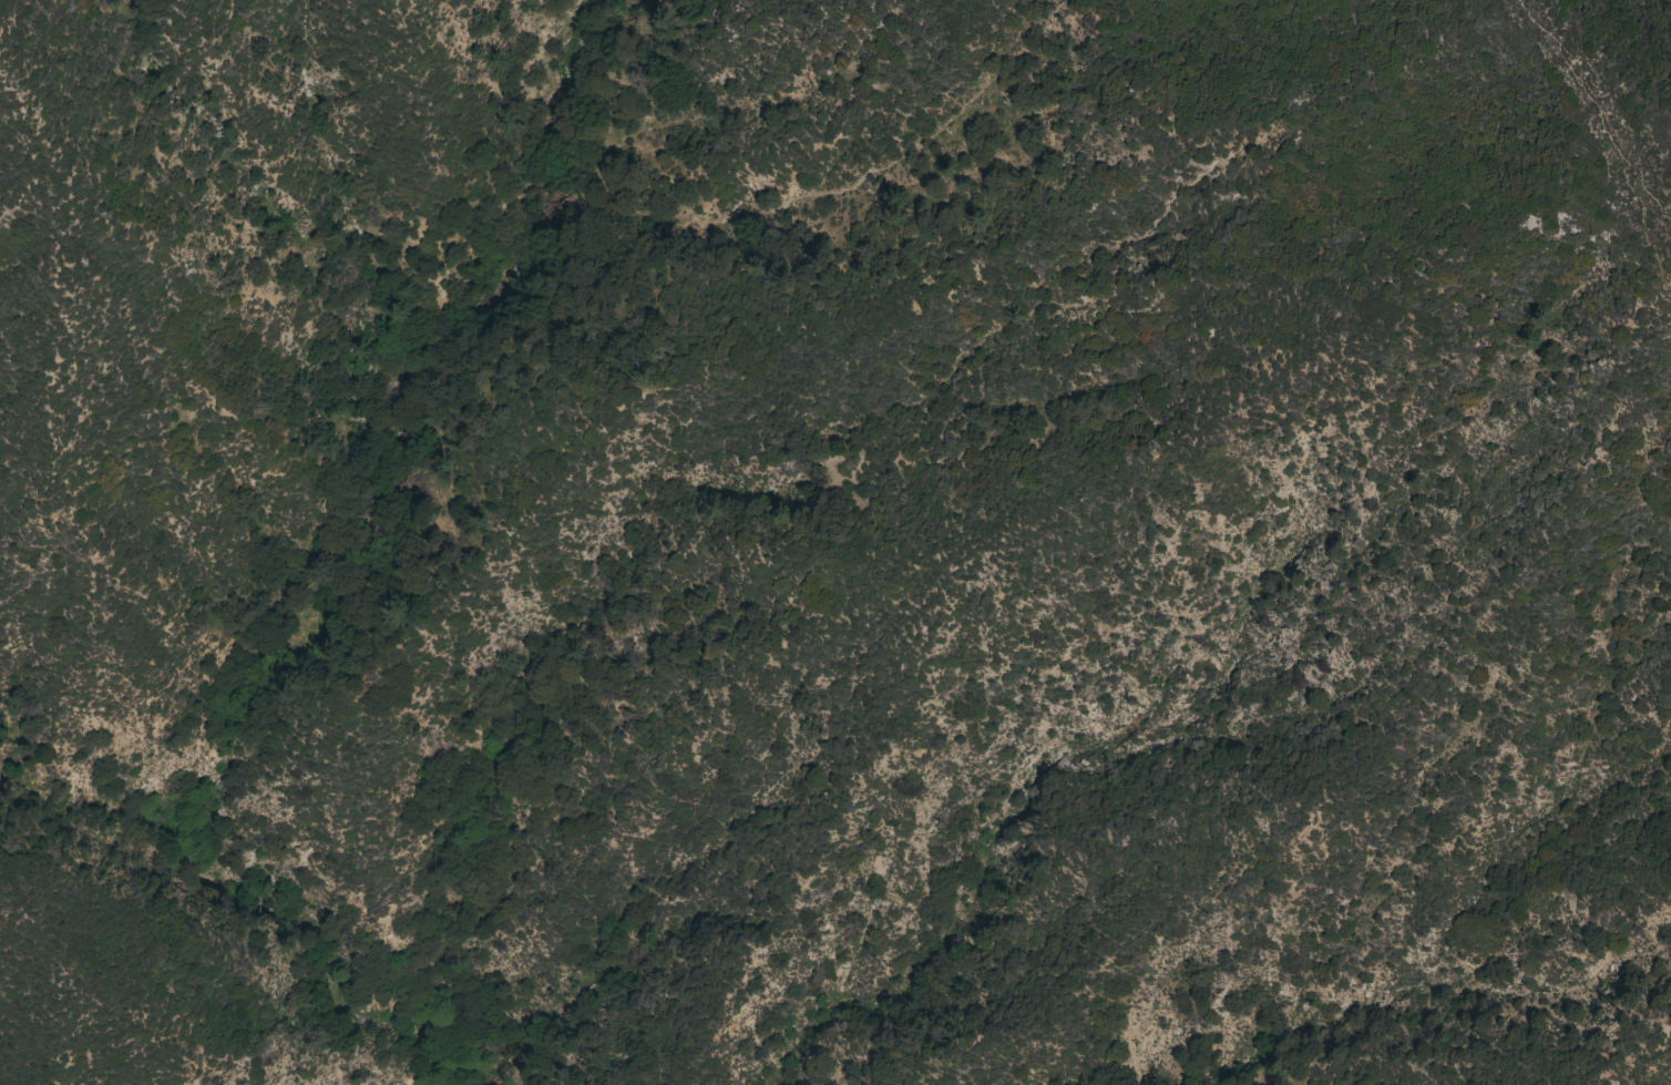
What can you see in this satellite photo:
road: (1601, 119)

